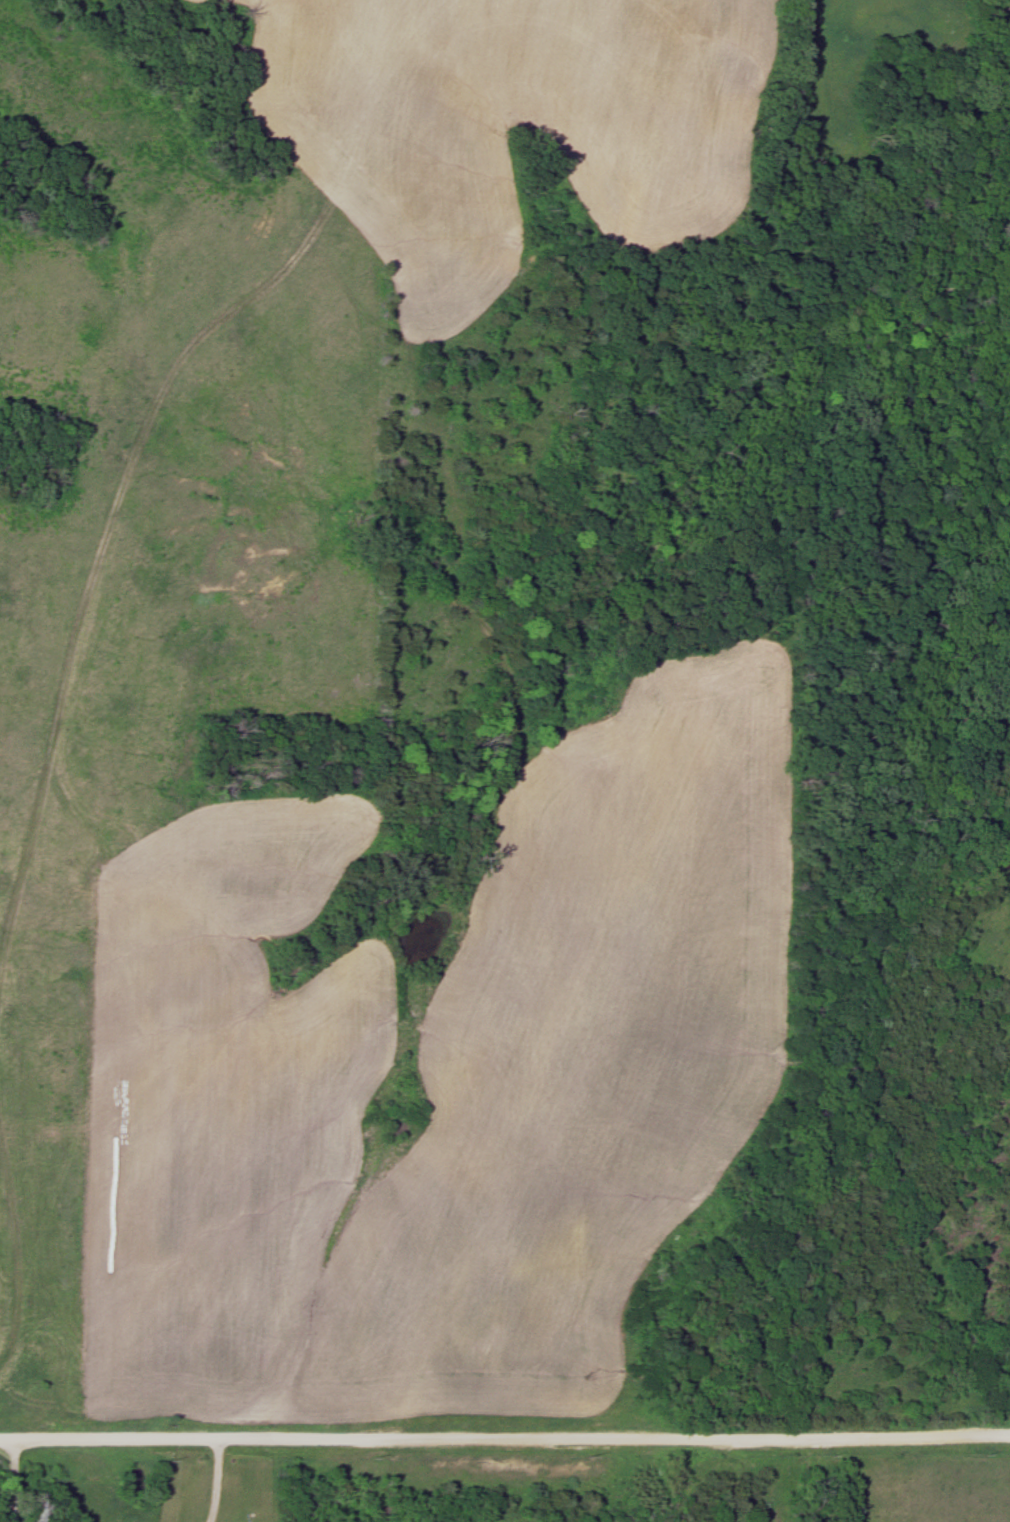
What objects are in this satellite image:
road: (505, 1437)
road: (12, 1479)
road: (215, 1479)
building: (36, 1513)

